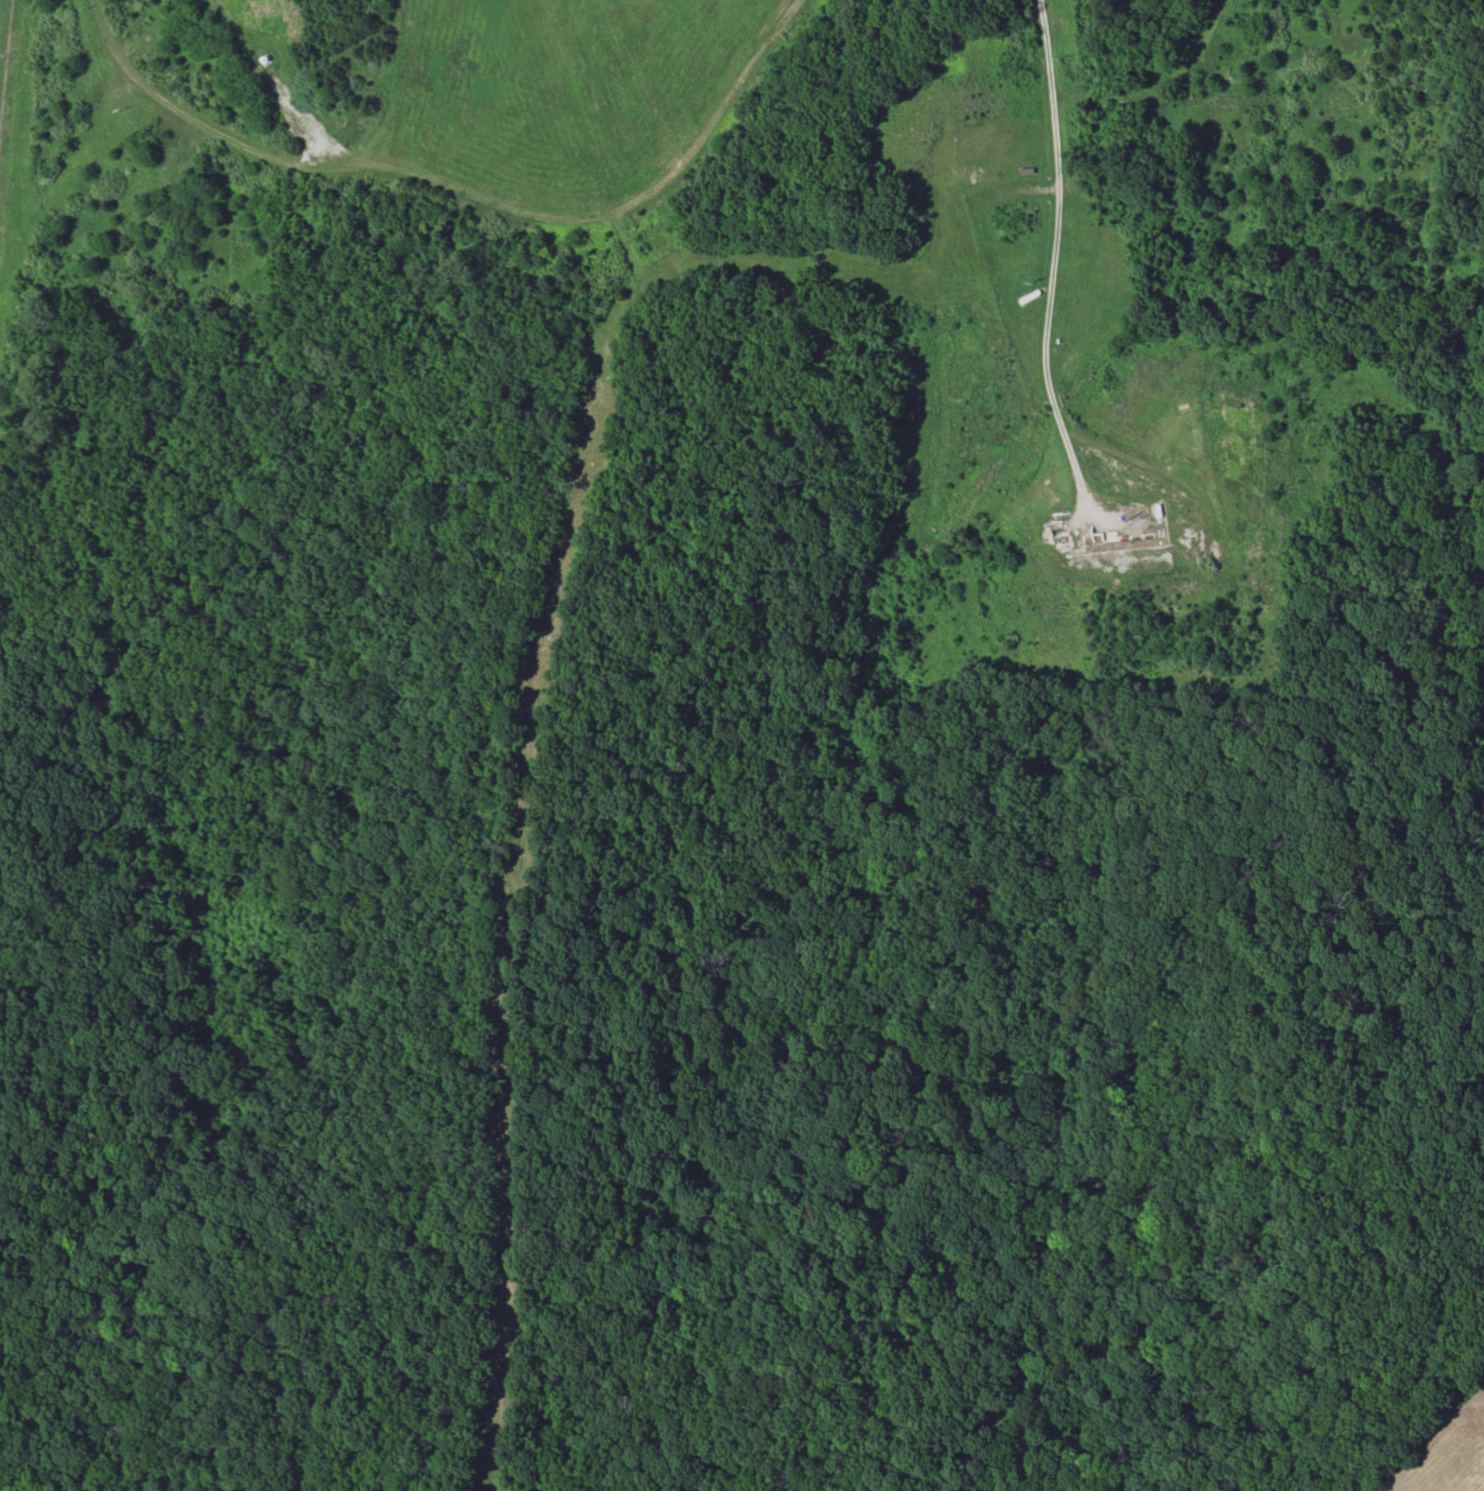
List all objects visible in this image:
road: (1053, 256)

